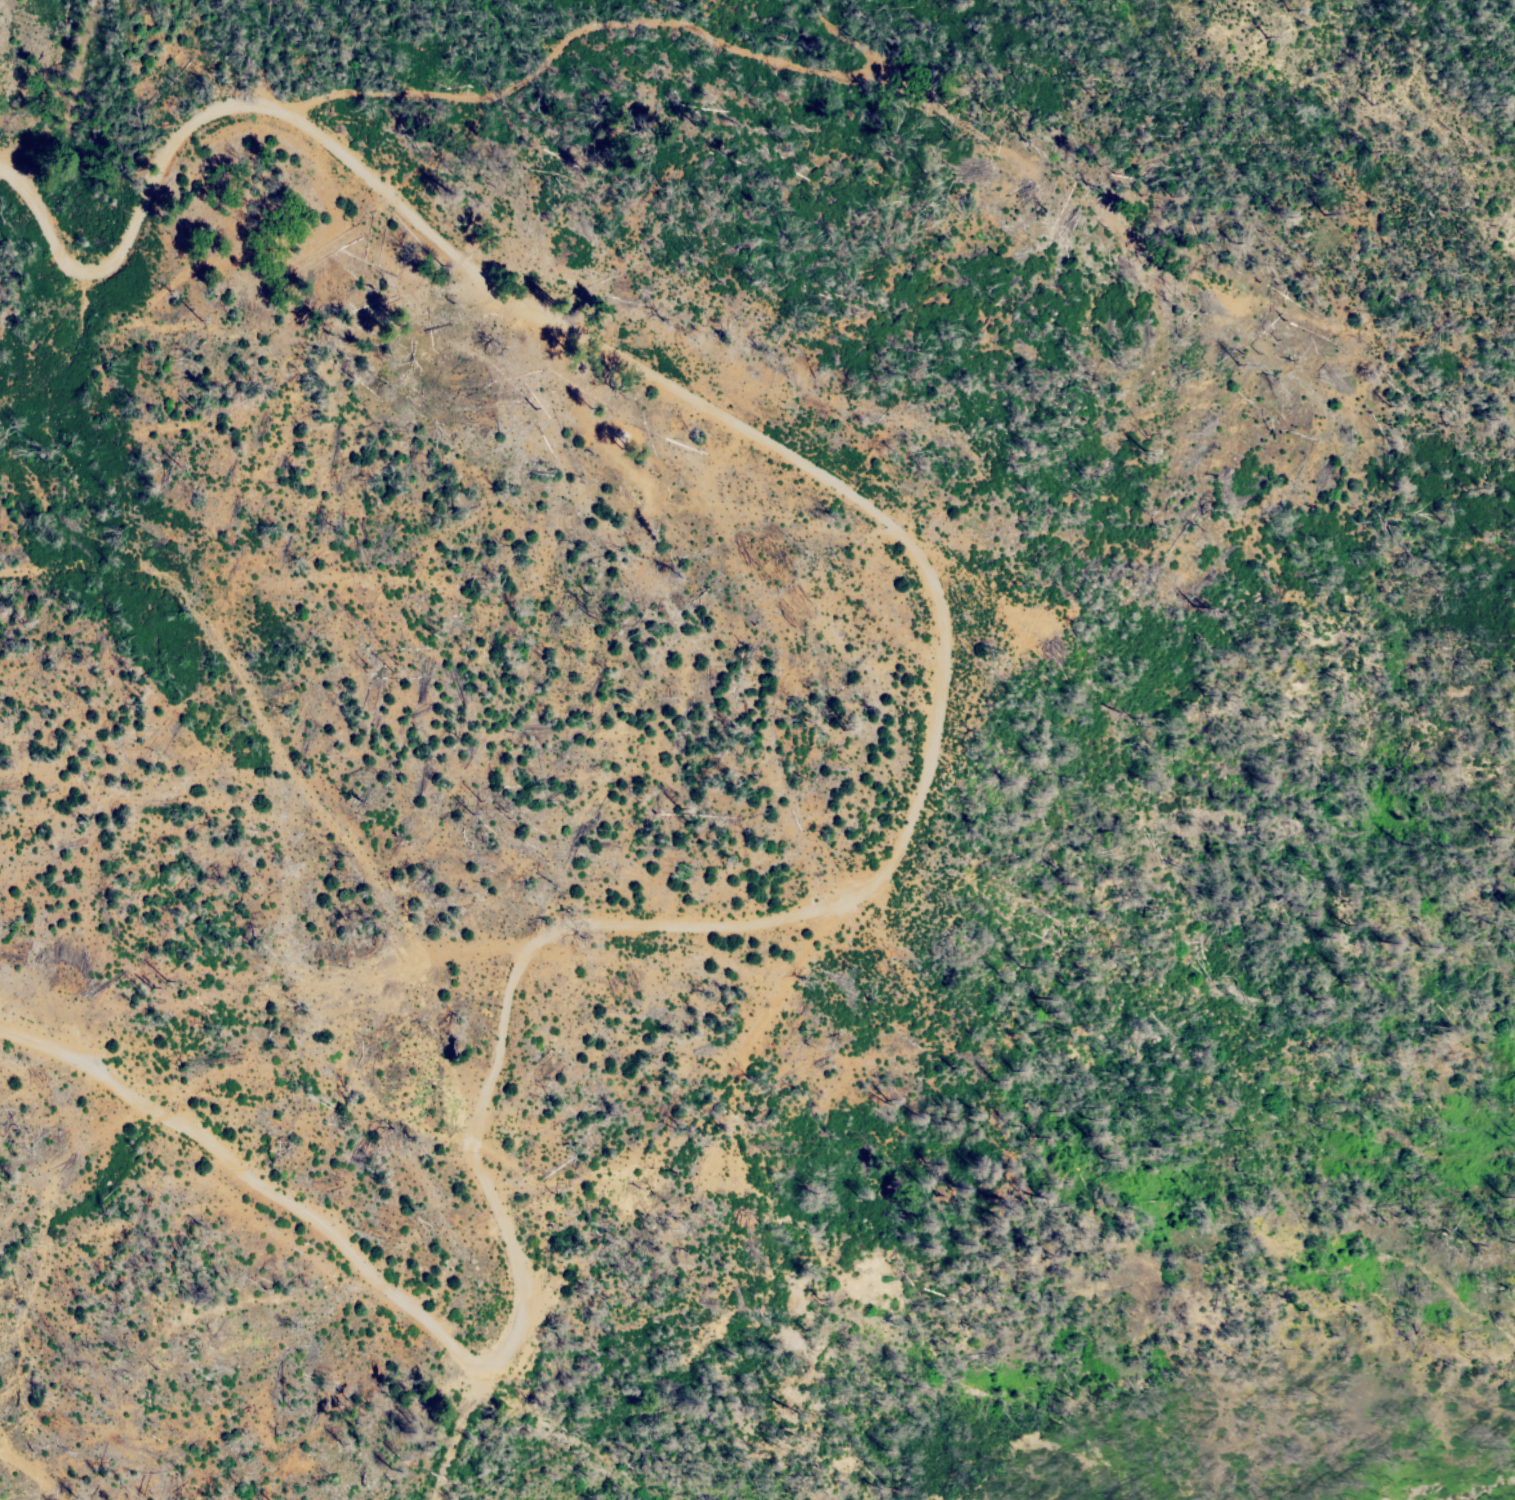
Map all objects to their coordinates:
road: (517, 97)
road: (908, 555)
road: (283, 749)
road: (260, 1179)
road: (454, 1441)
road: (27, 1479)

